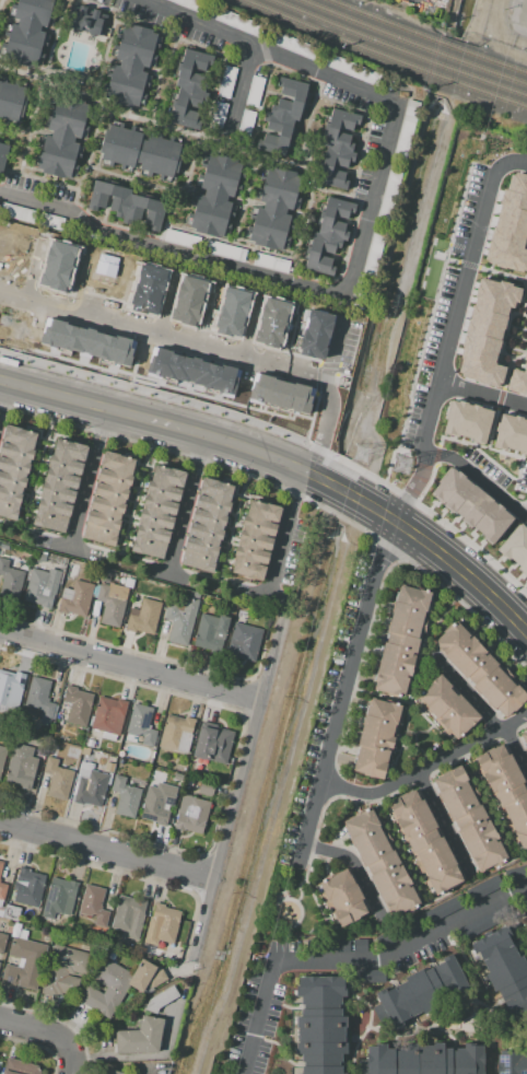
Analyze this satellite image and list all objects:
road: (0, 2)
road: (424, 2)
power substation: (517, 16)
building: (86, 20)
building: (30, 27)
railway: (426, 37)
road: (51, 39)
building: (288, 43)
railway: (412, 44)
road: (105, 49)
railway: (398, 49)
railway: (384, 57)
building: (132, 60)
building: (347, 68)
road: (163, 69)
building: (188, 80)
building: (225, 81)
road: (241, 89)
building: (254, 90)
building: (12, 102)
building: (284, 114)
building: (218, 115)
road: (306, 117)
building: (245, 122)
building: (406, 127)
road: (191, 133)
road: (13, 135)
road: (227, 138)
building: (62, 139)
road: (26, 142)
building: (337, 148)
building: (140, 152)
building: (2, 155)
road: (85, 160)
road: (134, 179)
building: (215, 195)
road: (246, 199)
road: (184, 200)
building: (126, 202)
building: (384, 202)
building: (274, 208)
building: (16, 211)
building: (510, 226)
building: (328, 235)
road: (300, 236)
building: (178, 237)
road: (237, 243)
road: (365, 245)
building: (224, 249)
building: (372, 253)
building: (270, 261)
road: (482, 269)
road: (39, 271)
road: (523, 281)
building: (151, 292)
road: (523, 296)
building: (198, 304)
road: (169, 308)
road: (523, 311)
building: (238, 315)
road: (426, 324)
building: (283, 326)
road: (517, 327)
road: (450, 328)
road: (256, 330)
building: (485, 330)
road: (505, 331)
building: (324, 336)
road: (515, 336)
building: (92, 343)
road: (513, 348)
road: (215, 349)
road: (344, 353)
building: (197, 371)
building: (518, 376)
road: (502, 386)
road: (482, 393)
building: (286, 394)
road: (3, 395)
road: (208, 411)
road: (141, 417)
building: (467, 420)
building: (511, 433)
road: (461, 442)
power tower: (361, 454)
road: (199, 457)
road: (493, 462)
power tower: (400, 465)
building: (14, 468)
road: (477, 477)
road: (35, 478)
road: (89, 478)
building: (59, 485)
road: (339, 488)
road: (526, 493)
building: (108, 500)
road: (133, 503)
road: (189, 504)
building: (470, 504)
building: (157, 512)
road: (526, 515)
building: (207, 524)
road: (230, 530)
road: (17, 536)
road: (285, 536)
building: (255, 539)
road: (469, 542)
building: (4, 546)
building: (516, 547)
road: (67, 548)
building: (43, 557)
road: (122, 562)
road: (453, 562)
road: (167, 573)
building: (105, 576)
building: (10, 579)
road: (209, 585)
building: (42, 586)
building: (194, 594)
road: (249, 595)
building: (75, 598)
building: (112, 604)
road: (458, 606)
building: (143, 617)
building: (181, 620)
road: (517, 621)
building: (210, 631)
building: (402, 640)
building: (244, 642)
road: (141, 652)
road: (130, 665)
building: (480, 669)
road: (413, 686)
building: (11, 687)
road: (342, 691)
road: (376, 693)
road: (246, 694)
building: (40, 697)
building: (78, 704)
building: (447, 707)
road: (483, 709)
building: (108, 714)
road: (428, 721)
building: (141, 724)
building: (175, 731)
building: (107, 736)
building: (131, 737)
building: (376, 737)
road: (446, 737)
building: (525, 737)
building: (91, 743)
building: (214, 745)
building: (526, 749)
building: (49, 750)
building: (86, 751)
building: (84, 757)
building: (2, 758)
road: (395, 758)
building: (121, 761)
building: (22, 767)
building: (109, 767)
road: (233, 767)
road: (425, 768)
building: (58, 779)
building: (189, 781)
building: (43, 784)
building: (90, 785)
building: (207, 786)
road: (237, 787)
building: (506, 789)
building: (126, 796)
road: (487, 802)
building: (154, 805)
building: (192, 815)
building: (469, 818)
road: (444, 821)
building: (425, 842)
road: (398, 845)
road: (106, 851)
building: (380, 863)
road: (353, 864)
building: (1, 865)
building: (514, 873)
road: (127, 875)
building: (28, 887)
building: (482, 887)
building: (2, 891)
building: (59, 898)
building: (341, 898)
building: (92, 901)
building: (443, 908)
building: (1, 912)
building: (11, 912)
building: (129, 912)
building: (27, 914)
building: (526, 914)
building: (163, 923)
building: (475, 925)
road: (514, 927)
building: (33, 935)
building: (383, 938)
building: (2, 943)
building: (337, 945)
building: (359, 945)
road: (350, 959)
building: (0, 964)
building: (24, 964)
building: (503, 966)
building: (63, 970)
road: (471, 972)
building: (371, 974)
building: (145, 977)
building: (115, 988)
building: (423, 991)
building: (162, 999)
road: (370, 1014)
road: (60, 1020)
building: (320, 1024)
road: (445, 1026)
road: (45, 1031)
building: (141, 1037)
road: (37, 1043)
building: (424, 1059)
building: (512, 1062)
building: (21, 1067)
road: (70, 1070)
building: (114, 1072)

